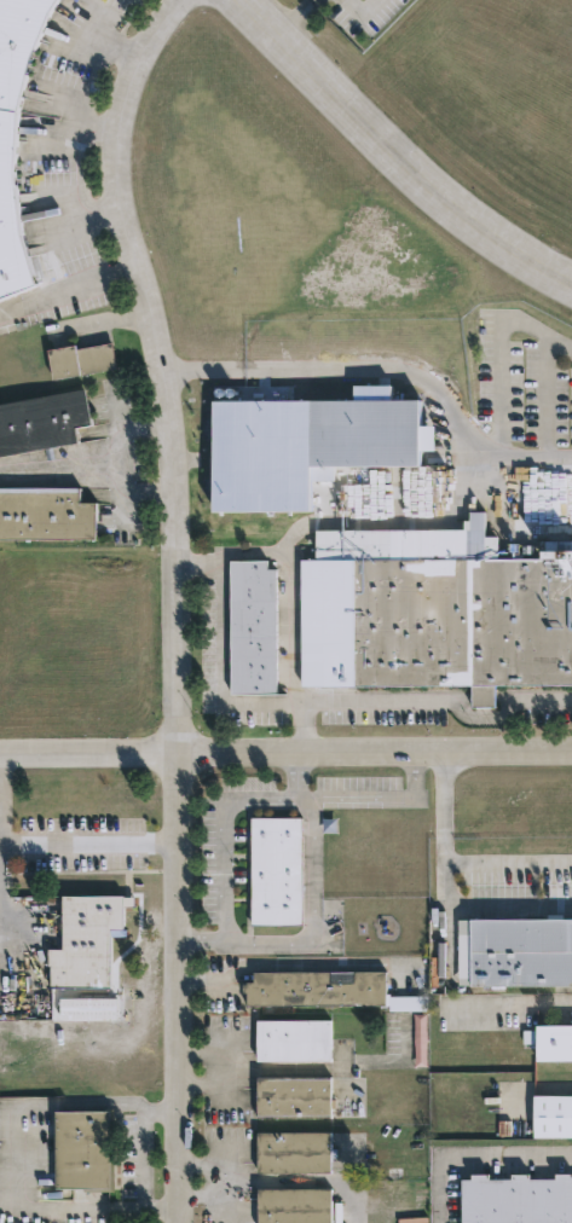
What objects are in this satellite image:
road: (362, 11)
road: (293, 18)
road: (129, 53)
road: (80, 120)
road: (102, 129)
building: (15, 133)
road: (394, 152)
road: (70, 286)
road: (498, 348)
building: (82, 363)
road: (385, 367)
road: (545, 394)
building: (42, 421)
road: (125, 429)
building: (374, 437)
road: (94, 463)
building: (46, 512)
road: (289, 587)
building: (449, 595)
road: (178, 598)
building: (253, 627)
road: (219, 677)
road: (441, 701)
road: (285, 753)
road: (296, 775)
road: (304, 799)
road: (386, 799)
road: (441, 827)
road: (226, 837)
road: (91, 847)
building: (275, 870)
road: (508, 904)
road: (314, 910)
building: (85, 940)
road: (203, 940)
building: (521, 951)
building: (7, 957)
building: (317, 987)
building: (408, 1003)
road: (514, 1005)
building: (293, 1039)
building: (420, 1039)
building: (554, 1042)
road: (233, 1066)
building: (294, 1096)
building: (554, 1114)
building: (82, 1148)
building: (293, 1149)
road: (476, 1155)
road: (143, 1160)
road: (231, 1181)
building: (516, 1199)
building: (294, 1205)

